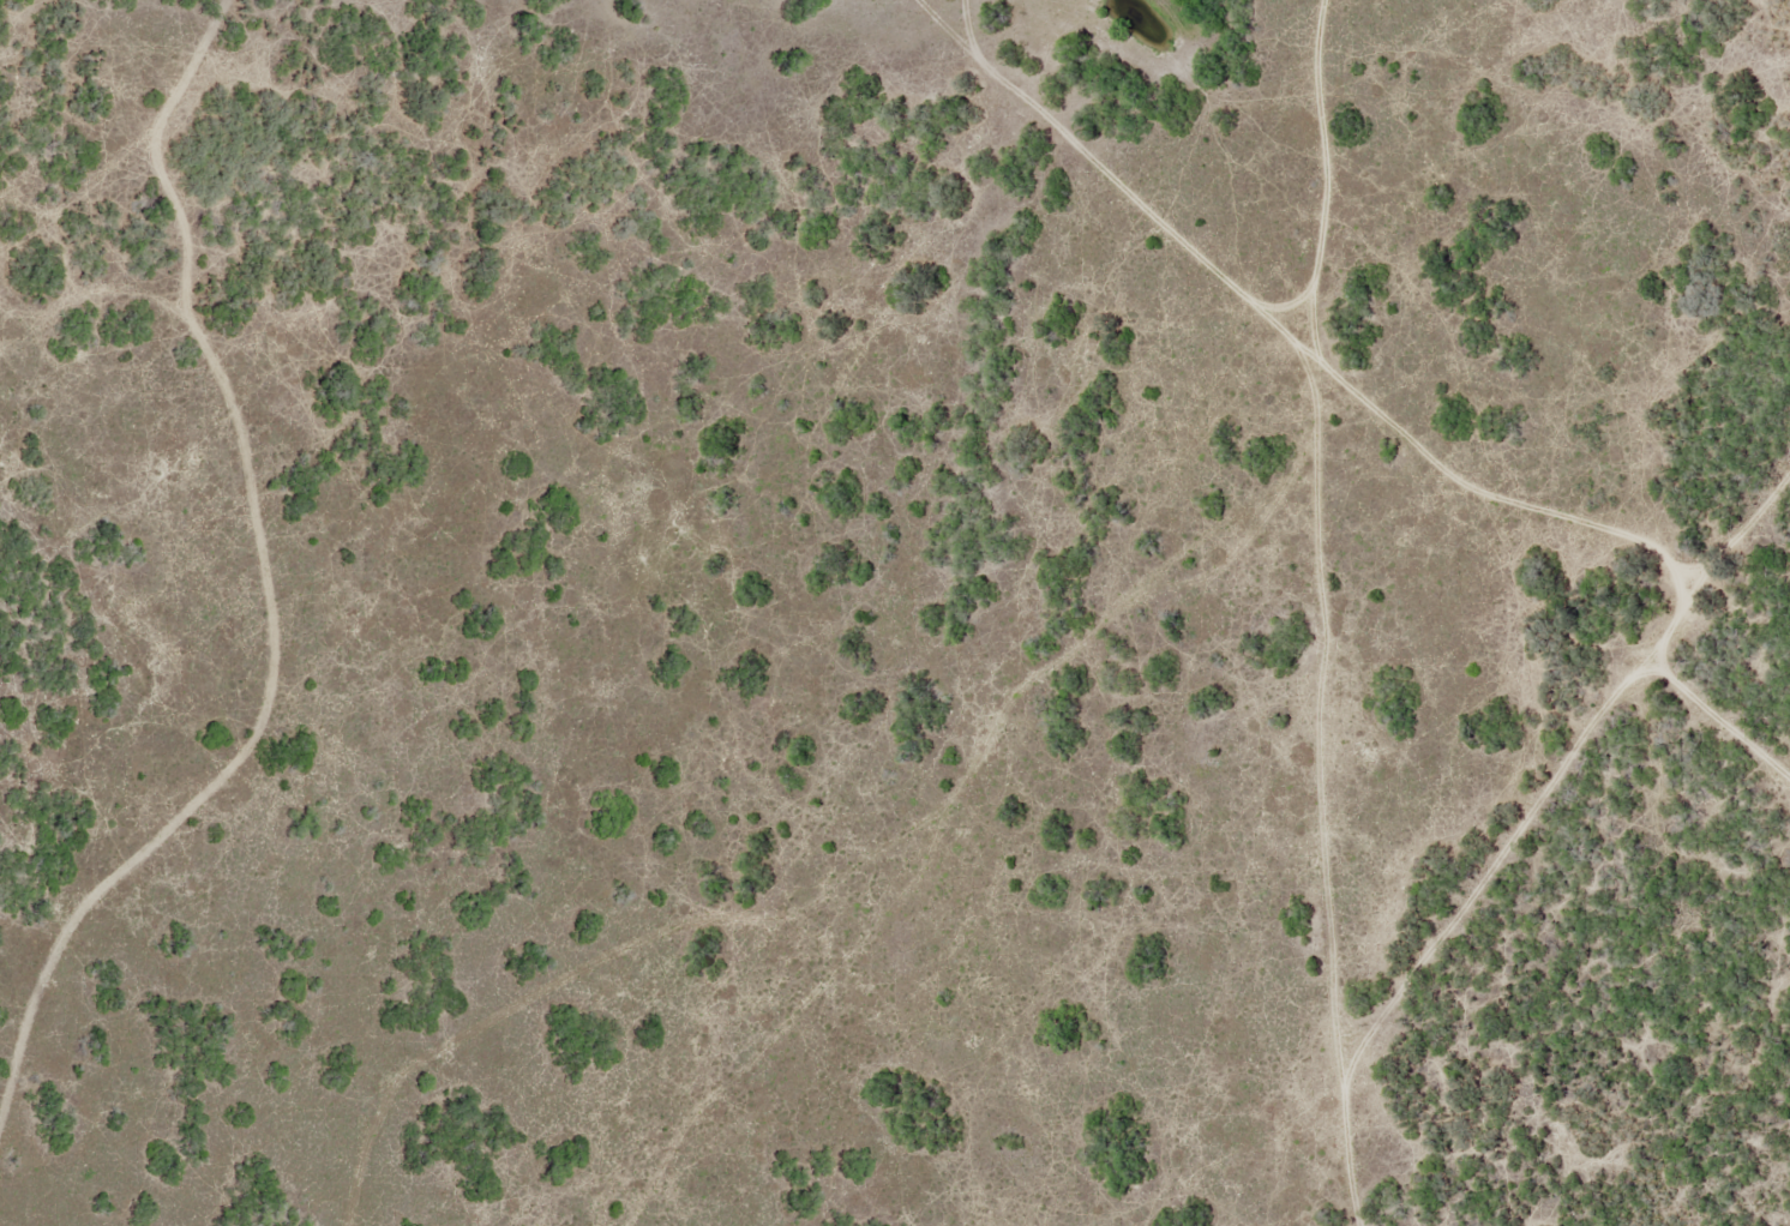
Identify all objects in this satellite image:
road: (1348, 617)

